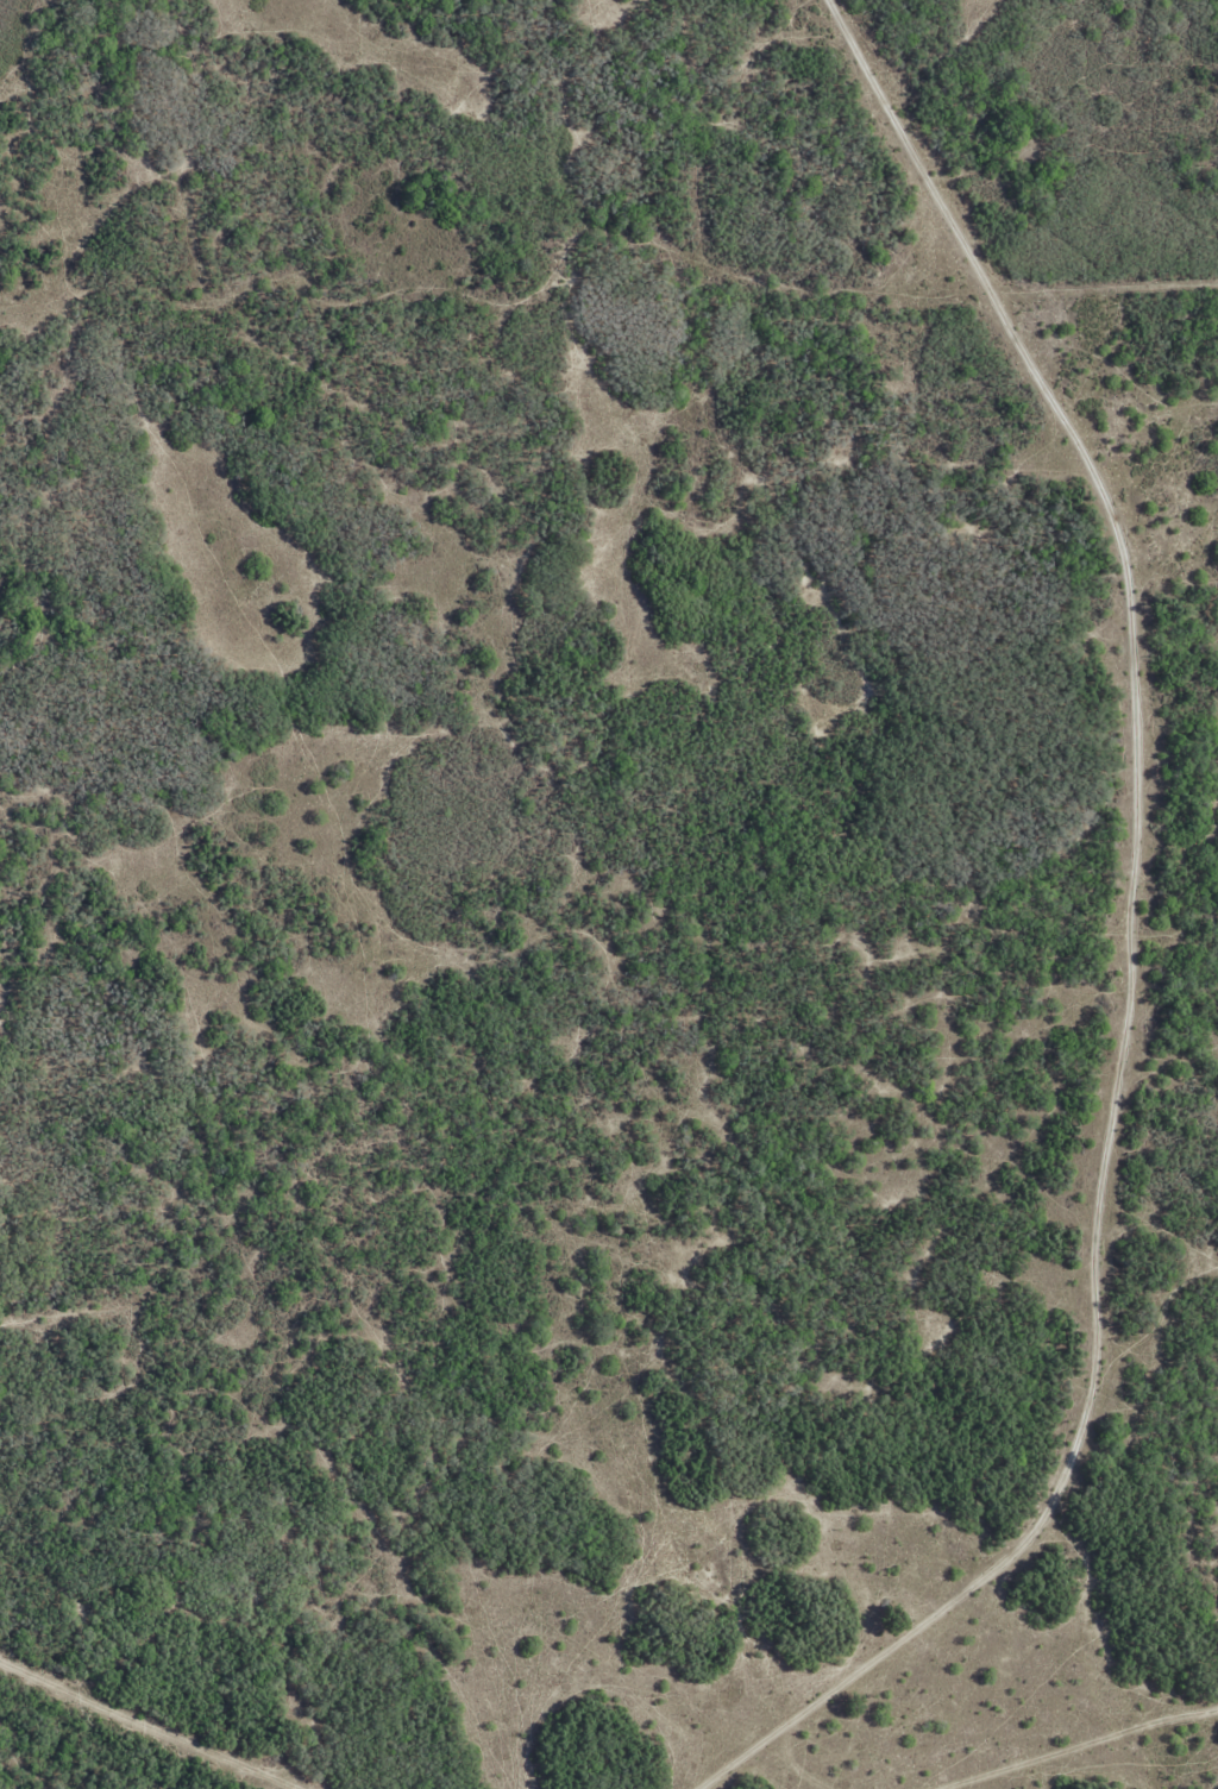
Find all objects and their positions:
road: (136, 1732)

